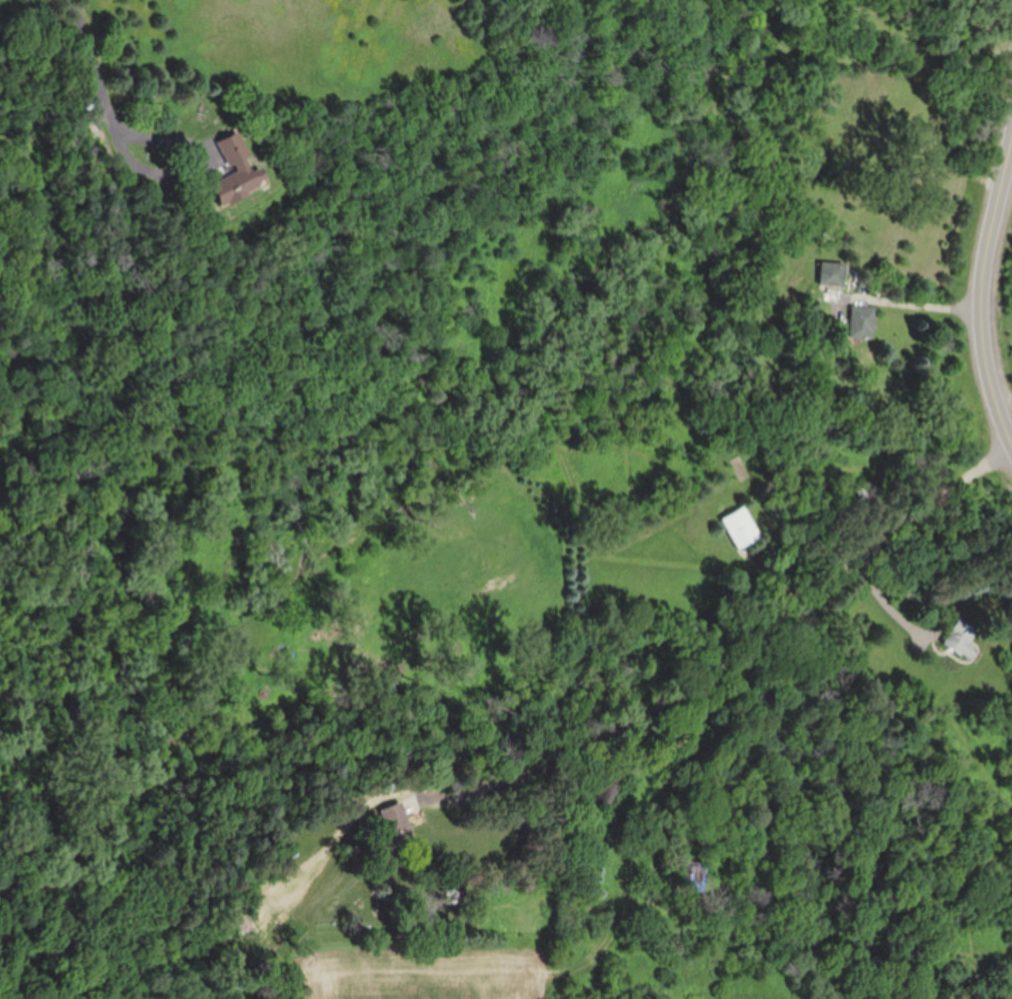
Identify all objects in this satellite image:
road: (87, 83)
building: (234, 174)
road: (982, 295)
road: (909, 303)
park: (1000, 305)
building: (864, 321)
building: (740, 526)
road: (789, 583)
road: (888, 599)
building: (960, 637)
building: (395, 818)
building: (688, 870)
building: (659, 943)

